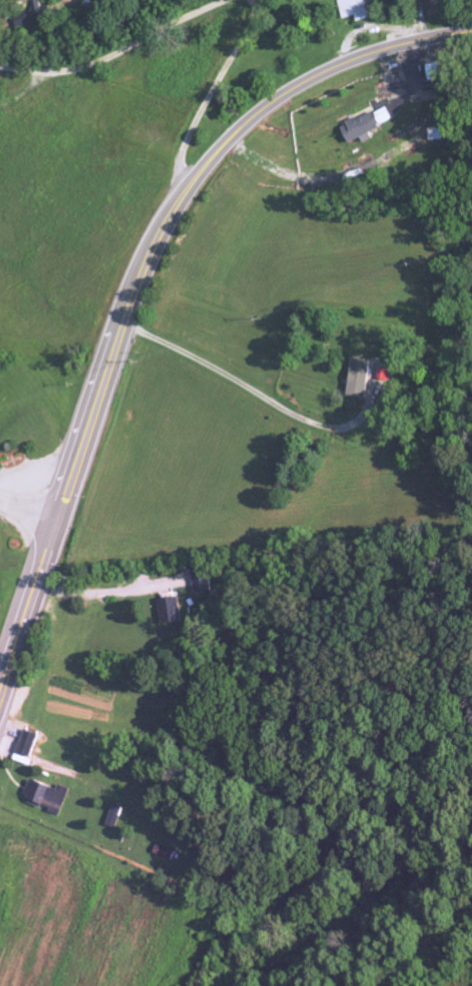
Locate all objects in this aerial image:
building: (356, 9)
building: (35, 14)
road: (120, 54)
road: (213, 93)
building: (363, 127)
building: (440, 133)
road: (139, 281)
building: (365, 378)
road: (253, 389)
road: (30, 504)
building: (205, 581)
road: (112, 593)
building: (177, 610)
building: (32, 743)
building: (49, 797)

